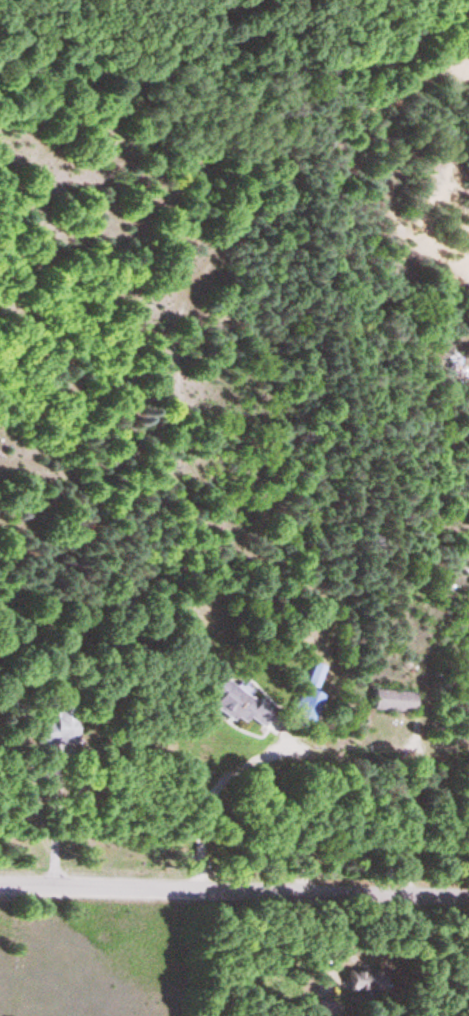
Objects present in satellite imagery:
building: (391, 701)
building: (235, 703)
building: (305, 706)
road: (234, 894)

